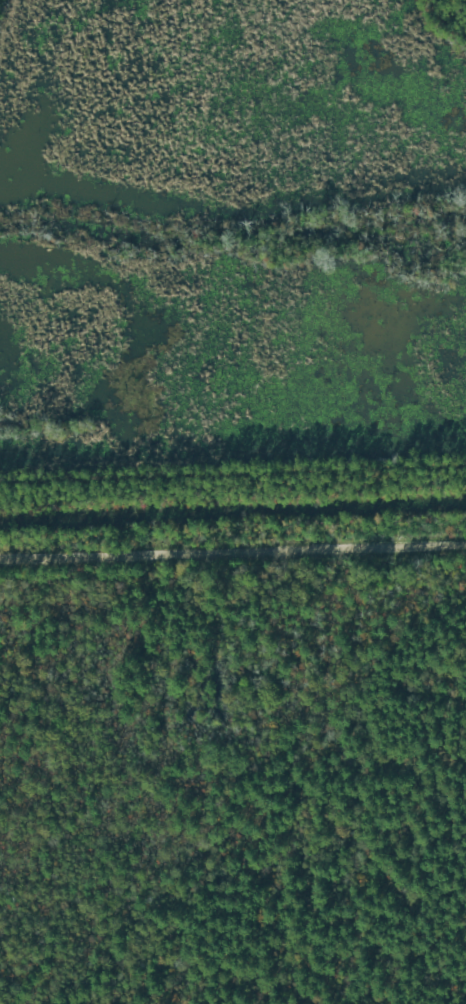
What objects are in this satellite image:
road: (233, 568)

